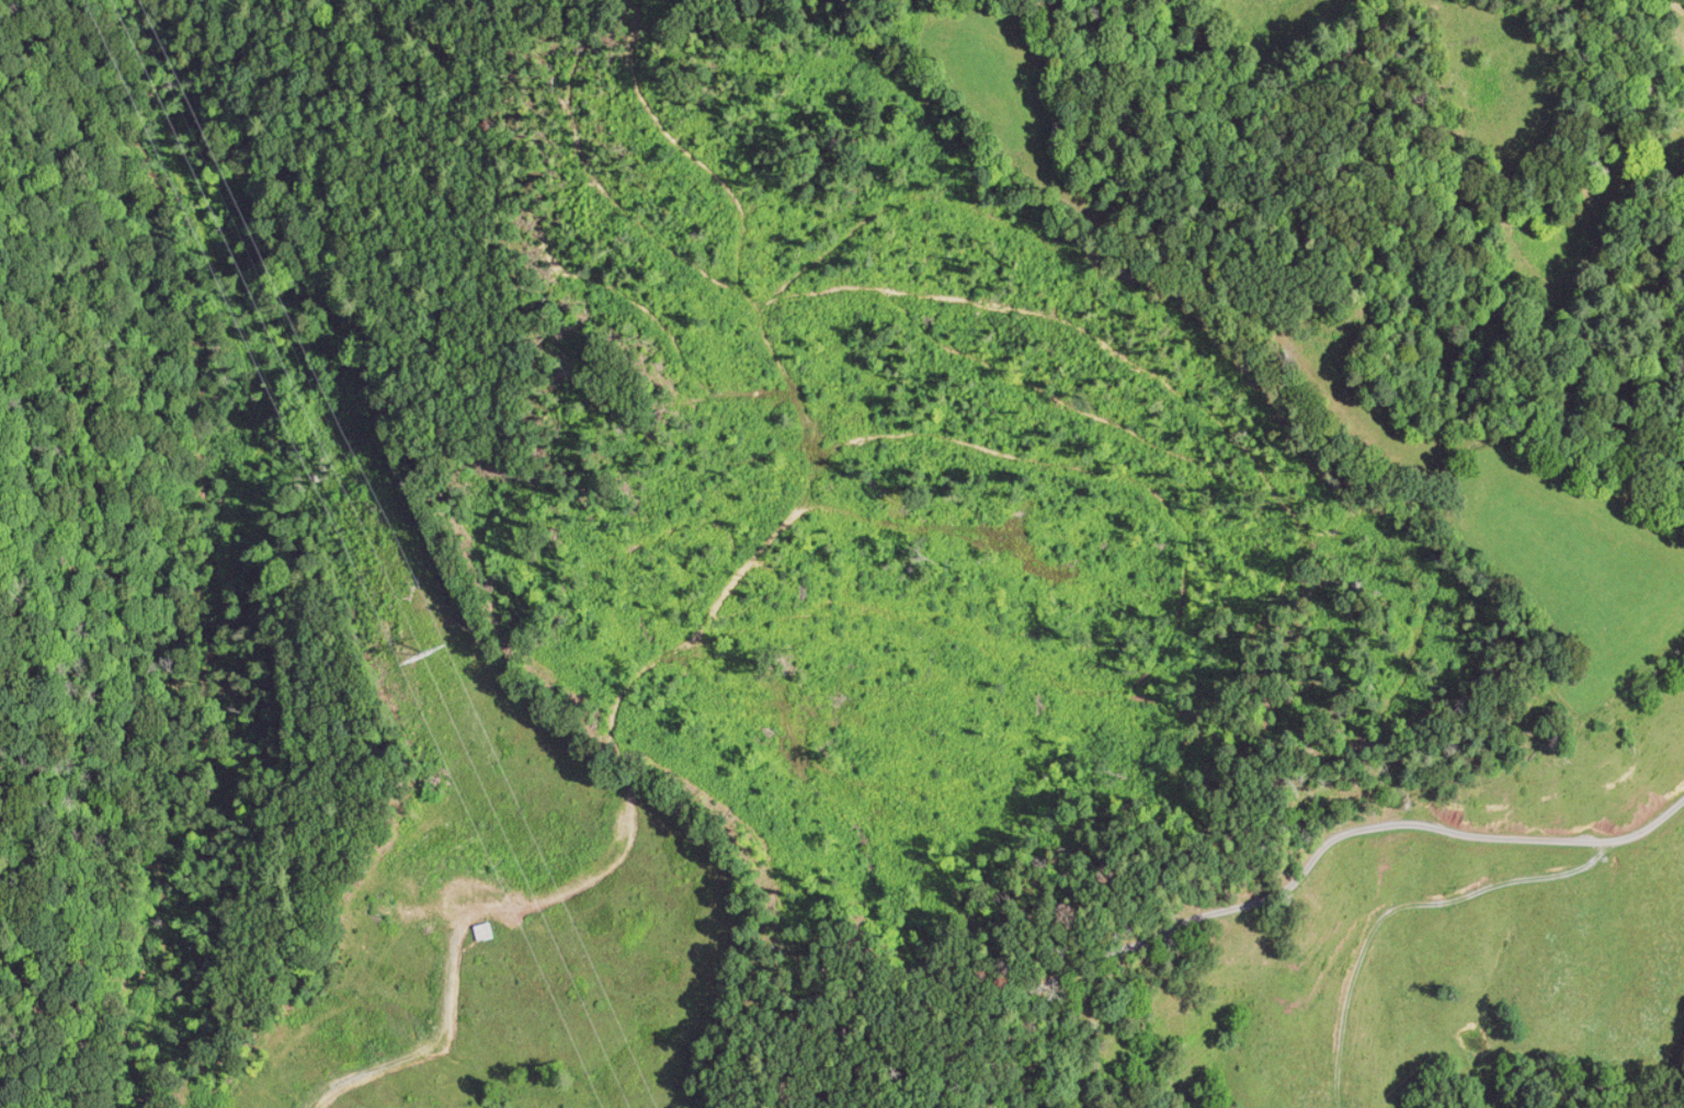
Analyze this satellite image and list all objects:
power tower: (441, 658)
road: (1309, 886)
road: (1412, 904)
building: (480, 935)

